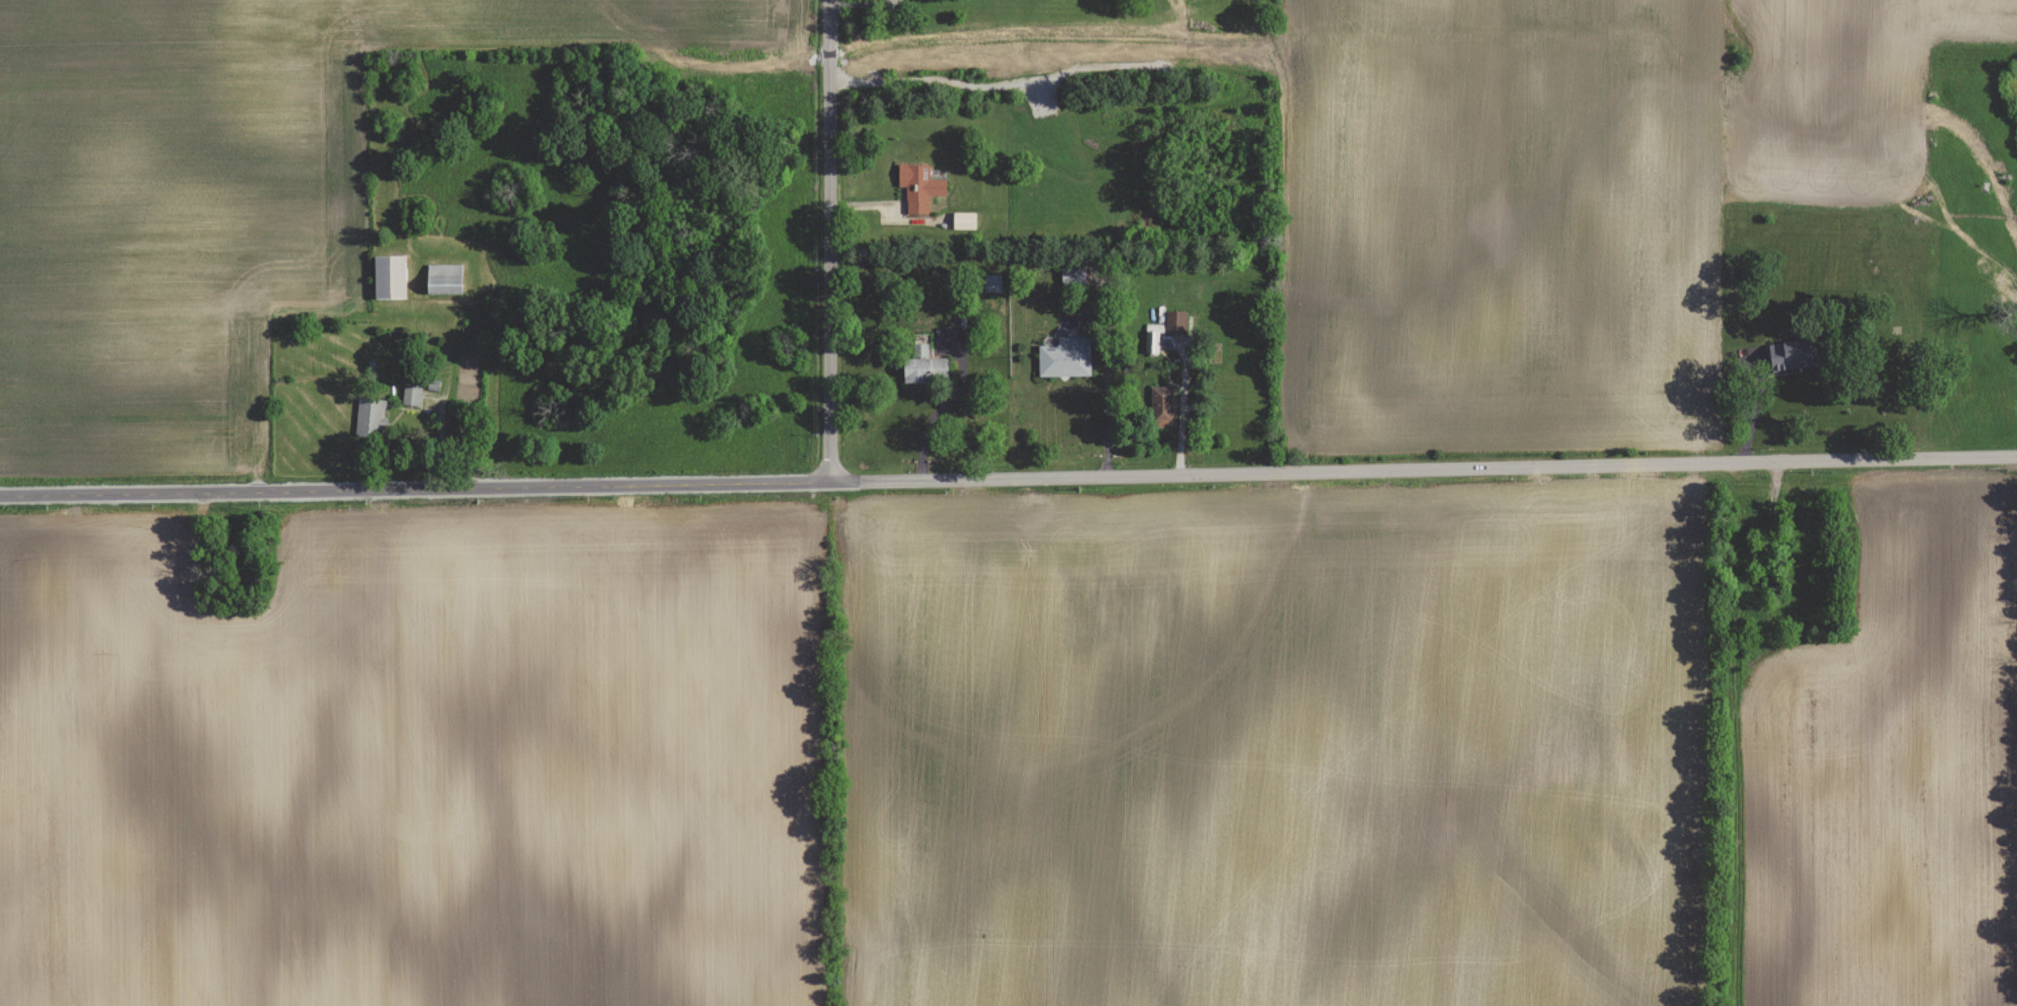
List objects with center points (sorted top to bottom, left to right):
building: (920, 187)
building: (964, 220)
road: (837, 241)
building: (1074, 275)
building: (390, 277)
building: (445, 279)
building: (992, 283)
building: (1176, 322)
building: (1153, 337)
building: (1791, 355)
building: (1066, 358)
building: (924, 369)
road: (1742, 393)
building: (412, 394)
road: (1103, 400)
building: (1162, 407)
road: (1179, 413)
building: (371, 417)
road: (926, 419)
road: (1008, 480)

